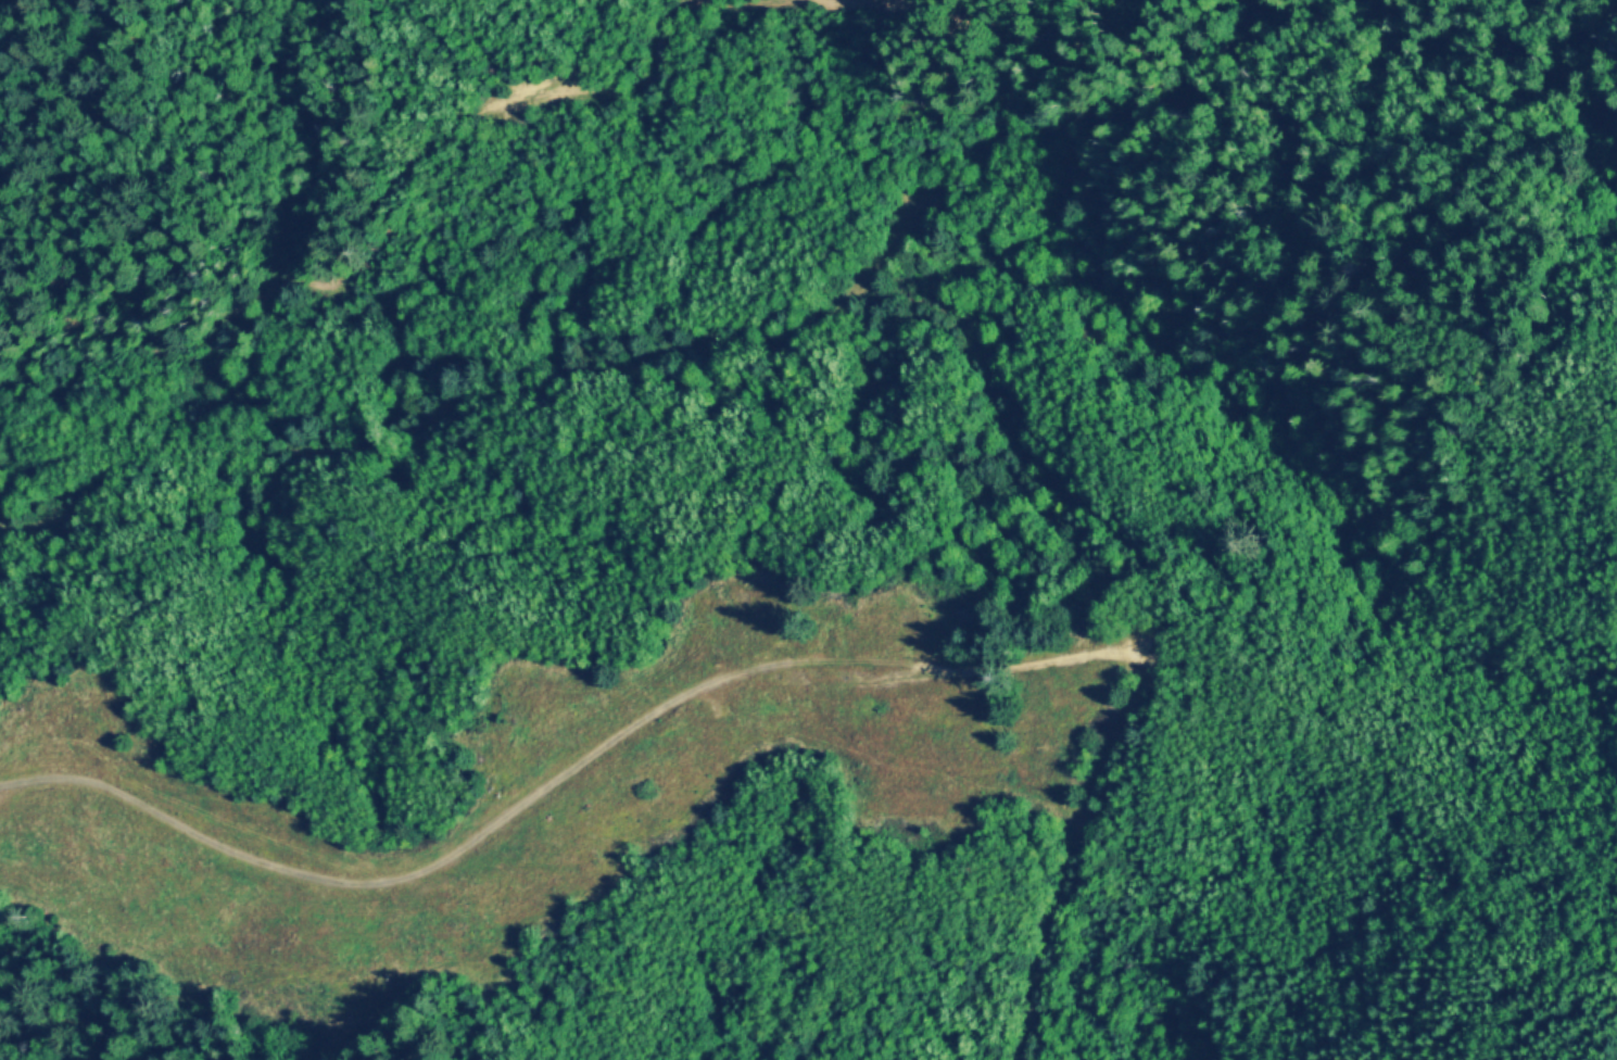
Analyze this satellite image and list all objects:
road: (781, 680)
road: (1065, 854)

